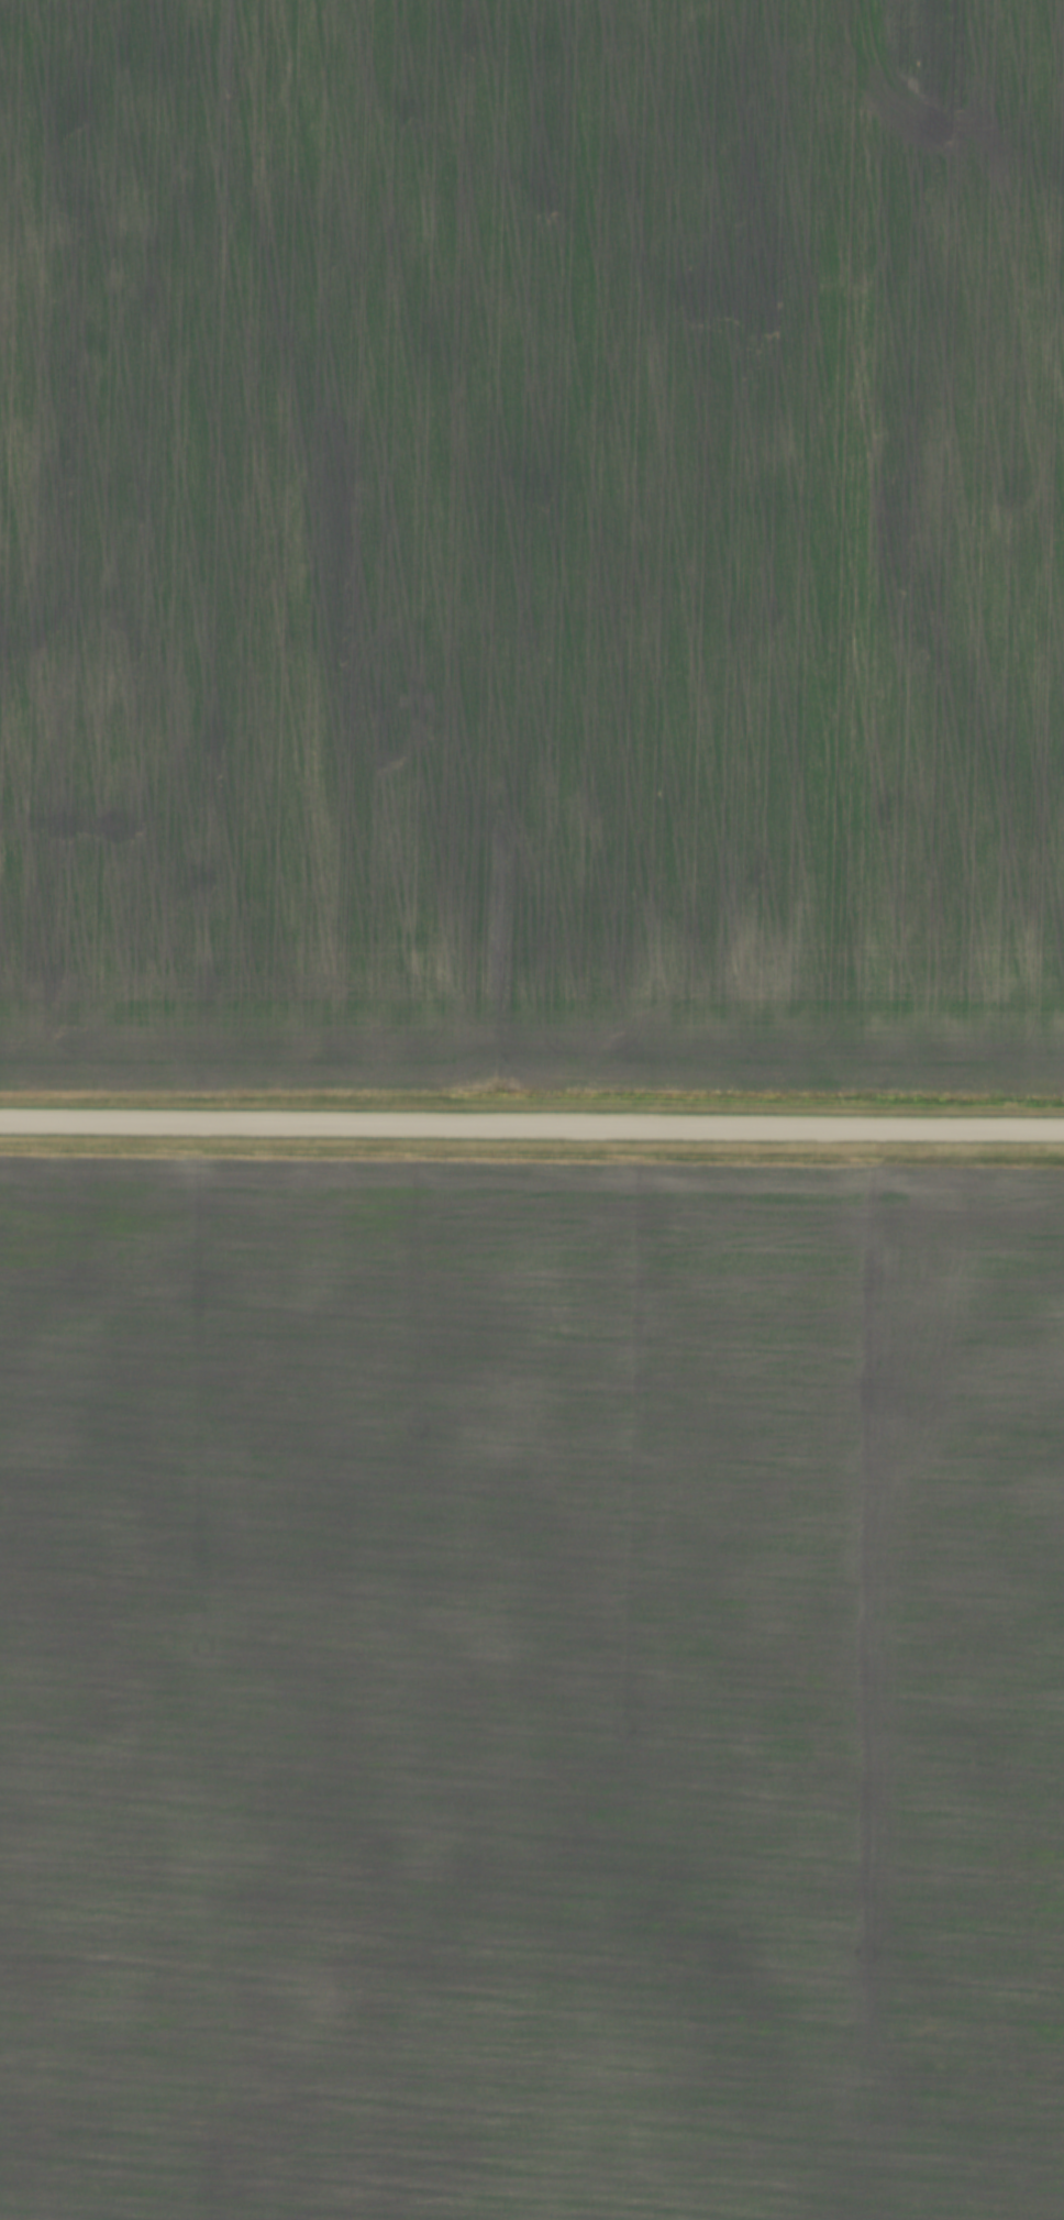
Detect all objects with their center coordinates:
road: (532, 1125)

